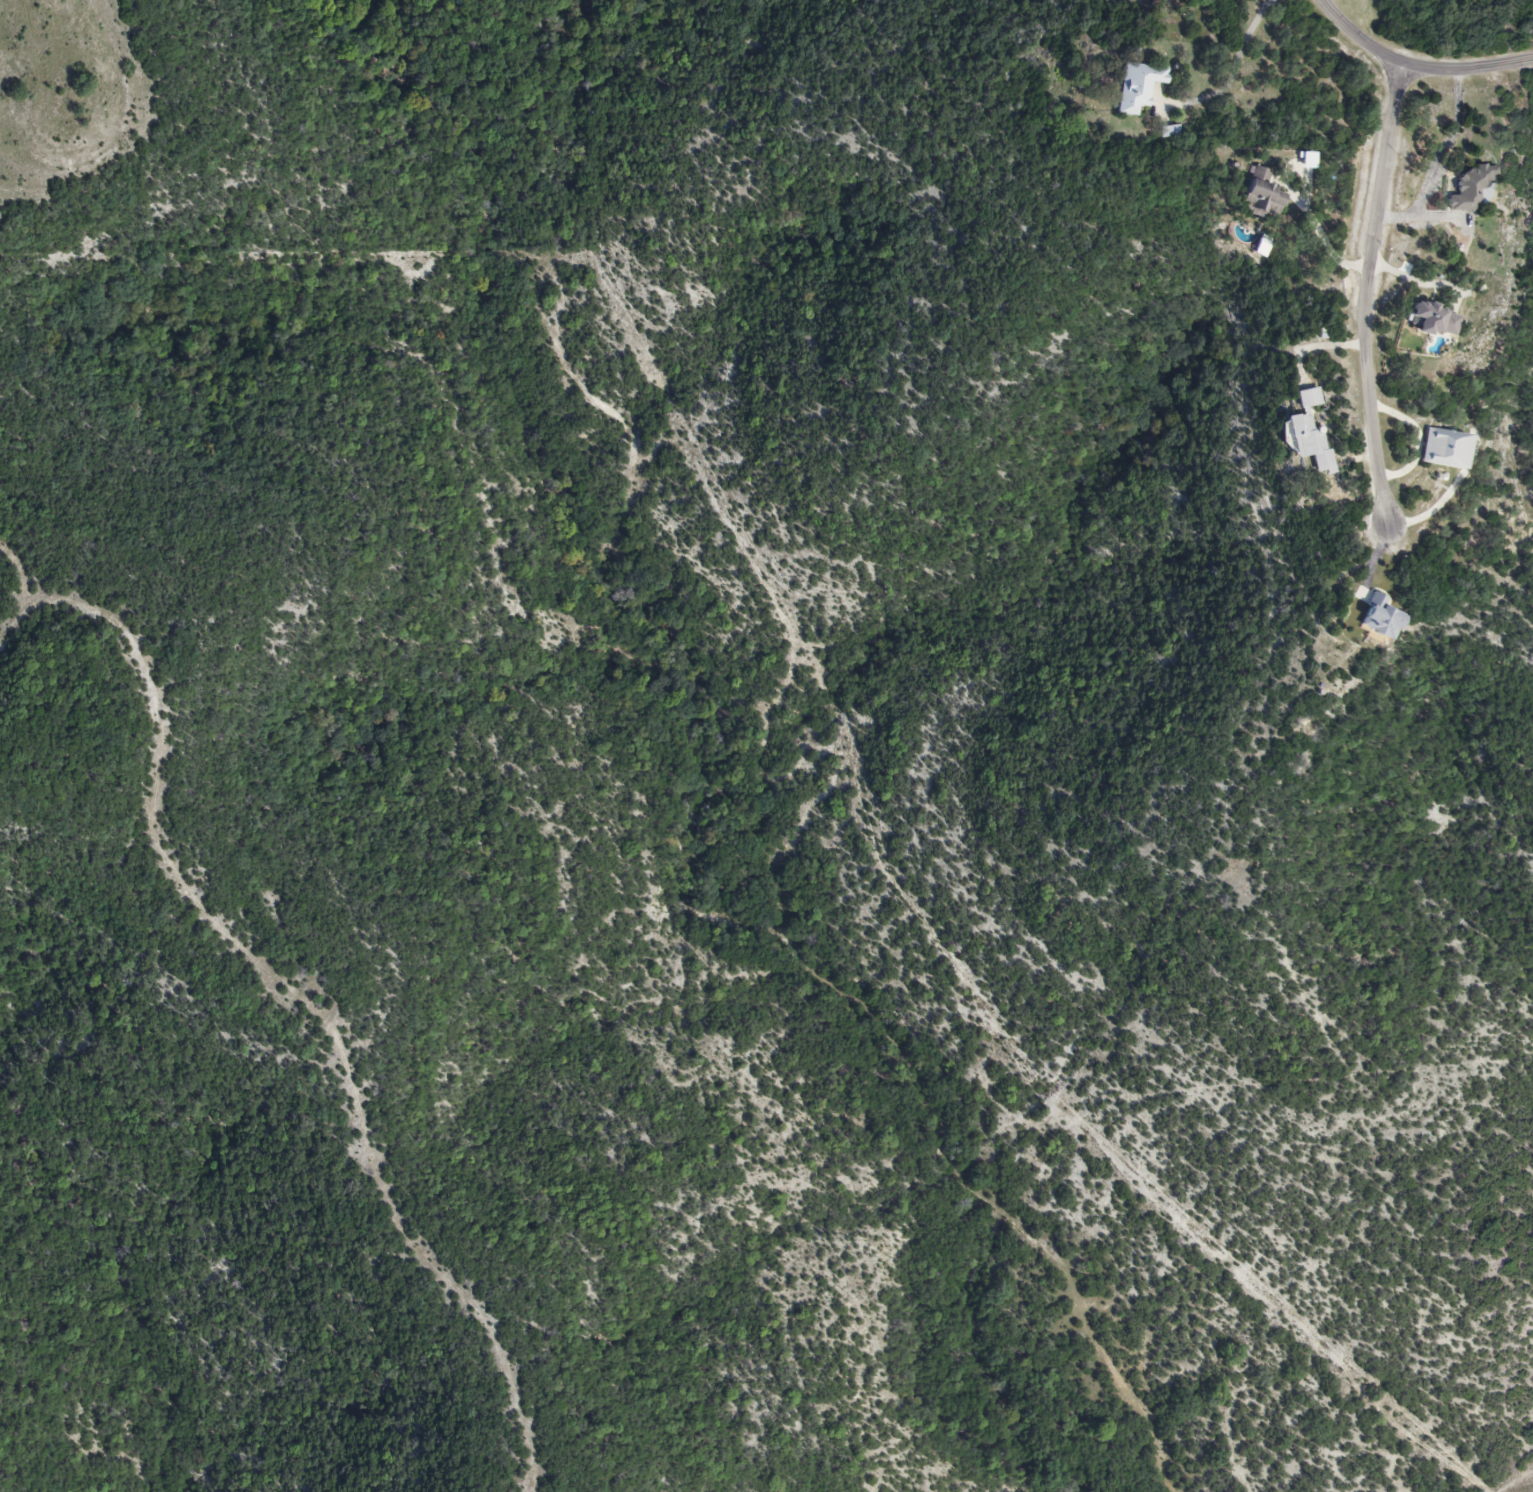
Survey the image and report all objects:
road: (1415, 66)
road: (1235, 74)
building: (1137, 88)
building: (1169, 132)
road: (1446, 145)
building: (1469, 190)
building: (1260, 199)
road: (1423, 218)
road: (1327, 243)
road: (1367, 294)
building: (1430, 322)
road: (1321, 346)
building: (1308, 433)
building: (1442, 450)
building: (1376, 618)

